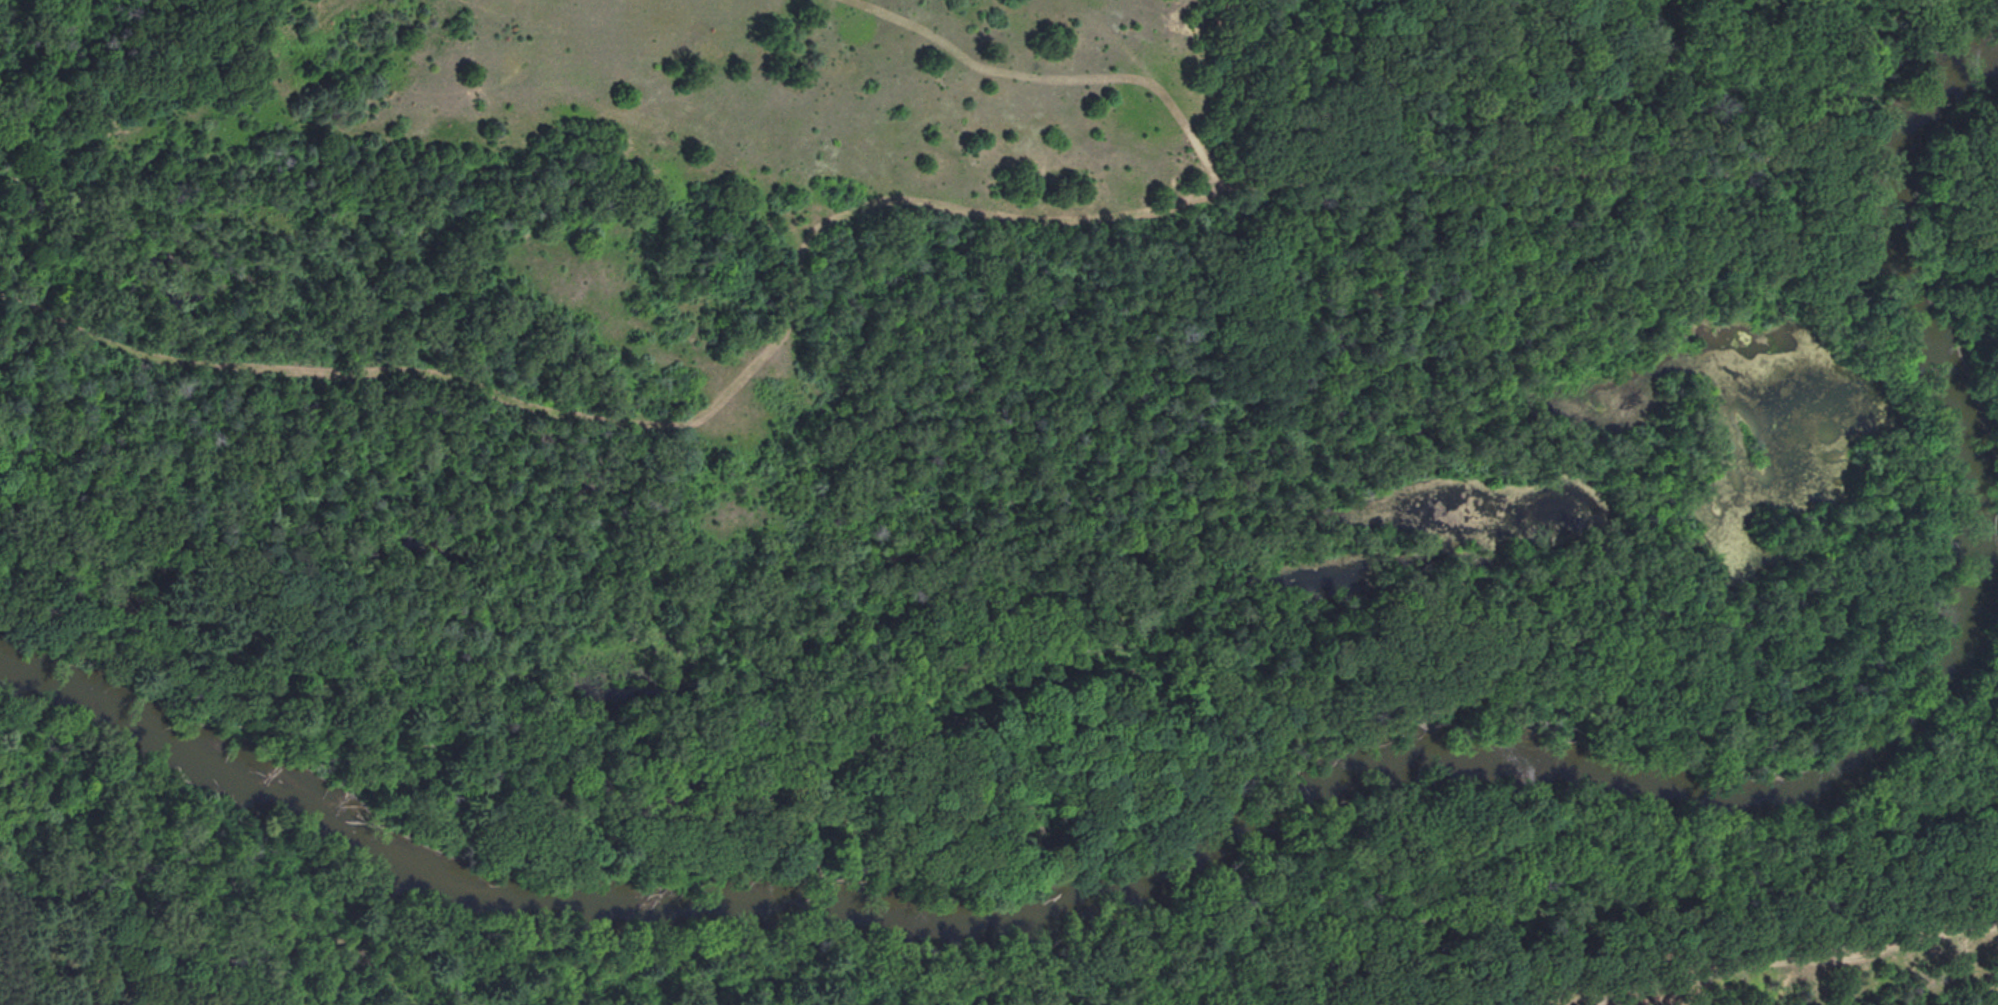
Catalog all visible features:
road: (934, 199)
road: (1940, 237)
park: (999, 502)
river: (1310, 798)
road: (78, 924)
road: (1022, 973)
road: (1814, 976)
road: (825, 979)

